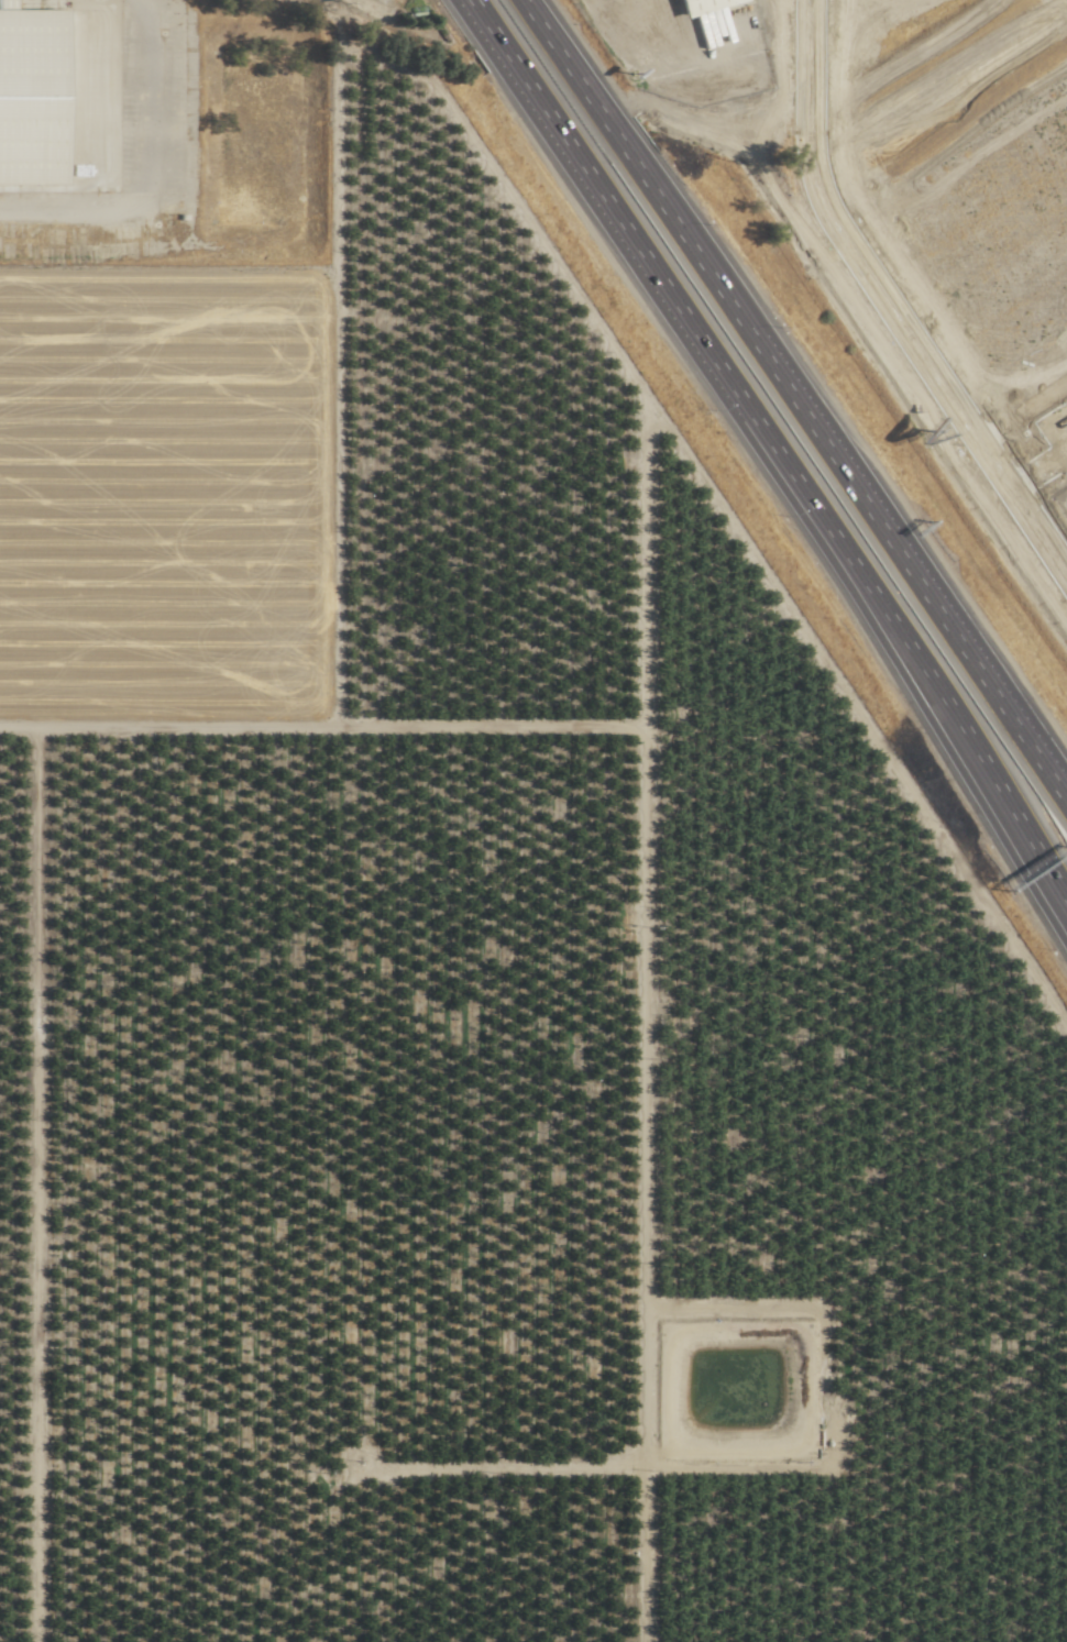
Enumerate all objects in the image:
building: (698, 5)
road: (714, 36)
building: (30, 96)
road: (867, 338)
road: (794, 400)
road: (769, 453)
road: (316, 1500)

